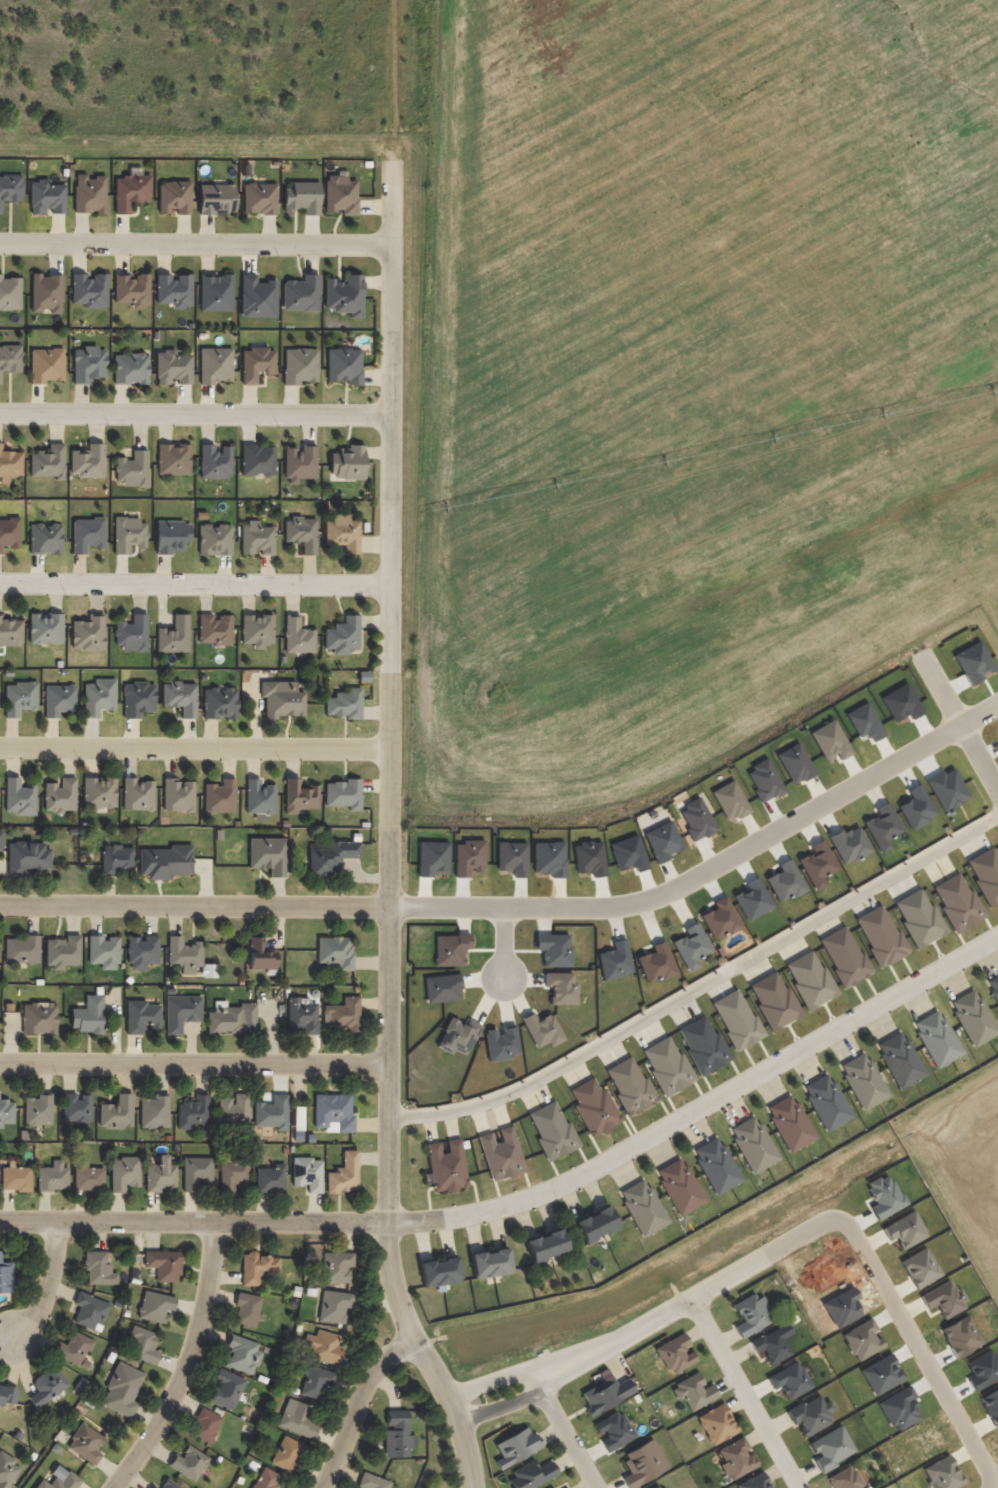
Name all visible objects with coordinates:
building: (11, 189)
building: (131, 190)
building: (90, 194)
building: (341, 194)
building: (46, 197)
building: (174, 197)
building: (302, 197)
building: (259, 198)
building: (216, 199)
road: (196, 244)
building: (90, 290)
building: (132, 290)
building: (175, 290)
building: (10, 293)
building: (47, 293)
building: (216, 293)
building: (302, 294)
building: (345, 295)
building: (258, 297)
building: (11, 359)
building: (257, 363)
building: (89, 364)
building: (46, 365)
building: (215, 365)
building: (300, 365)
building: (344, 365)
building: (173, 367)
building: (131, 368)
road: (196, 413)
building: (174, 459)
building: (258, 460)
building: (88, 461)
building: (215, 461)
building: (48, 462)
building: (11, 463)
building: (300, 463)
building: (348, 463)
building: (132, 469)
building: (9, 533)
building: (301, 533)
building: (342, 533)
building: (87, 534)
building: (129, 534)
building: (172, 536)
building: (45, 539)
building: (215, 539)
building: (256, 539)
road: (195, 583)
building: (46, 628)
building: (215, 629)
building: (11, 632)
building: (89, 633)
building: (132, 633)
building: (343, 635)
building: (174, 636)
building: (298, 637)
road: (918, 651)
building: (99, 697)
building: (180, 697)
building: (20, 698)
building: (138, 699)
building: (282, 699)
building: (59, 700)
building: (220, 703)
building: (345, 704)
road: (490, 748)
building: (99, 792)
building: (138, 794)
building: (344, 794)
building: (60, 795)
building: (178, 795)
building: (220, 796)
building: (300, 796)
building: (19, 797)
building: (260, 799)
road: (390, 831)
building: (0, 841)
building: (268, 855)
building: (331, 856)
building: (27, 857)
building: (117, 860)
building: (165, 862)
building: (986, 873)
building: (957, 902)
road: (524, 905)
building: (919, 917)
building: (881, 935)
road: (502, 942)
building: (22, 950)
building: (63, 952)
building: (104, 952)
building: (143, 952)
building: (335, 952)
building: (184, 954)
building: (260, 954)
building: (845, 956)
building: (810, 980)
road: (700, 986)
building: (993, 986)
building: (774, 1000)
building: (181, 1012)
building: (343, 1014)
building: (88, 1015)
building: (303, 1015)
building: (142, 1017)
building: (974, 1017)
building: (39, 1018)
building: (232, 1018)
building: (737, 1019)
building: (937, 1038)
building: (703, 1045)
building: (901, 1059)
road: (195, 1062)
building: (667, 1066)
building: (864, 1080)
building: (631, 1085)
building: (827, 1101)
building: (77, 1107)
building: (594, 1107)
building: (38, 1110)
building: (7, 1111)
building: (233, 1111)
building: (117, 1112)
building: (154, 1112)
building: (193, 1112)
building: (334, 1113)
building: (297, 1120)
building: (790, 1123)
building: (553, 1130)
building: (754, 1144)
building: (502, 1154)
building: (717, 1165)
building: (447, 1166)
building: (233, 1172)
building: (124, 1173)
building: (197, 1173)
building: (308, 1173)
building: (344, 1174)
building: (160, 1175)
building: (53, 1177)
building: (16, 1178)
building: (89, 1178)
building: (270, 1179)
building: (680, 1186)
road: (532, 1197)
building: (643, 1207)
building: (596, 1224)
building: (545, 1246)
building: (490, 1263)
building: (164, 1264)
building: (336, 1266)
building: (257, 1267)
building: (98, 1268)
building: (440, 1272)
building: (6, 1276)
road: (727, 1277)
road: (47, 1283)
building: (310, 1291)
building: (155, 1306)
building: (334, 1306)
building: (248, 1309)
building: (90, 1311)
building: (751, 1315)
building: (792, 1319)
building: (298, 1326)
road: (621, 1338)
building: (773, 1343)
building: (143, 1345)
building: (324, 1347)
road: (918, 1348)
building: (74, 1350)
building: (675, 1354)
building: (243, 1355)
road: (189, 1364)
building: (790, 1380)
building: (316, 1381)
building: (48, 1385)
building: (226, 1389)
building: (122, 1390)
building: (291, 1390)
building: (694, 1392)
road: (745, 1393)
building: (606, 1394)
building: (8, 1395)
road: (358, 1404)
building: (810, 1414)
building: (298, 1419)
building: (717, 1423)
building: (205, 1425)
road: (564, 1427)
building: (614, 1430)
building: (398, 1435)
building: (86, 1443)
building: (516, 1447)
building: (830, 1448)
building: (288, 1454)
building: (736, 1458)
building: (189, 1463)
building: (643, 1464)
building: (252, 1465)
building: (7, 1470)
building: (943, 1473)
building: (531, 1474)
building: (60, 1479)
building: (266, 1479)
building: (846, 1479)
building: (238, 1480)
building: (373, 1481)
building: (755, 1481)
building: (169, 1484)
road: (472, 1484)
building: (153, 1487)
building: (551, 1487)
building: (656, 1487)
building: (868, 1487)
road: (988, 1487)

